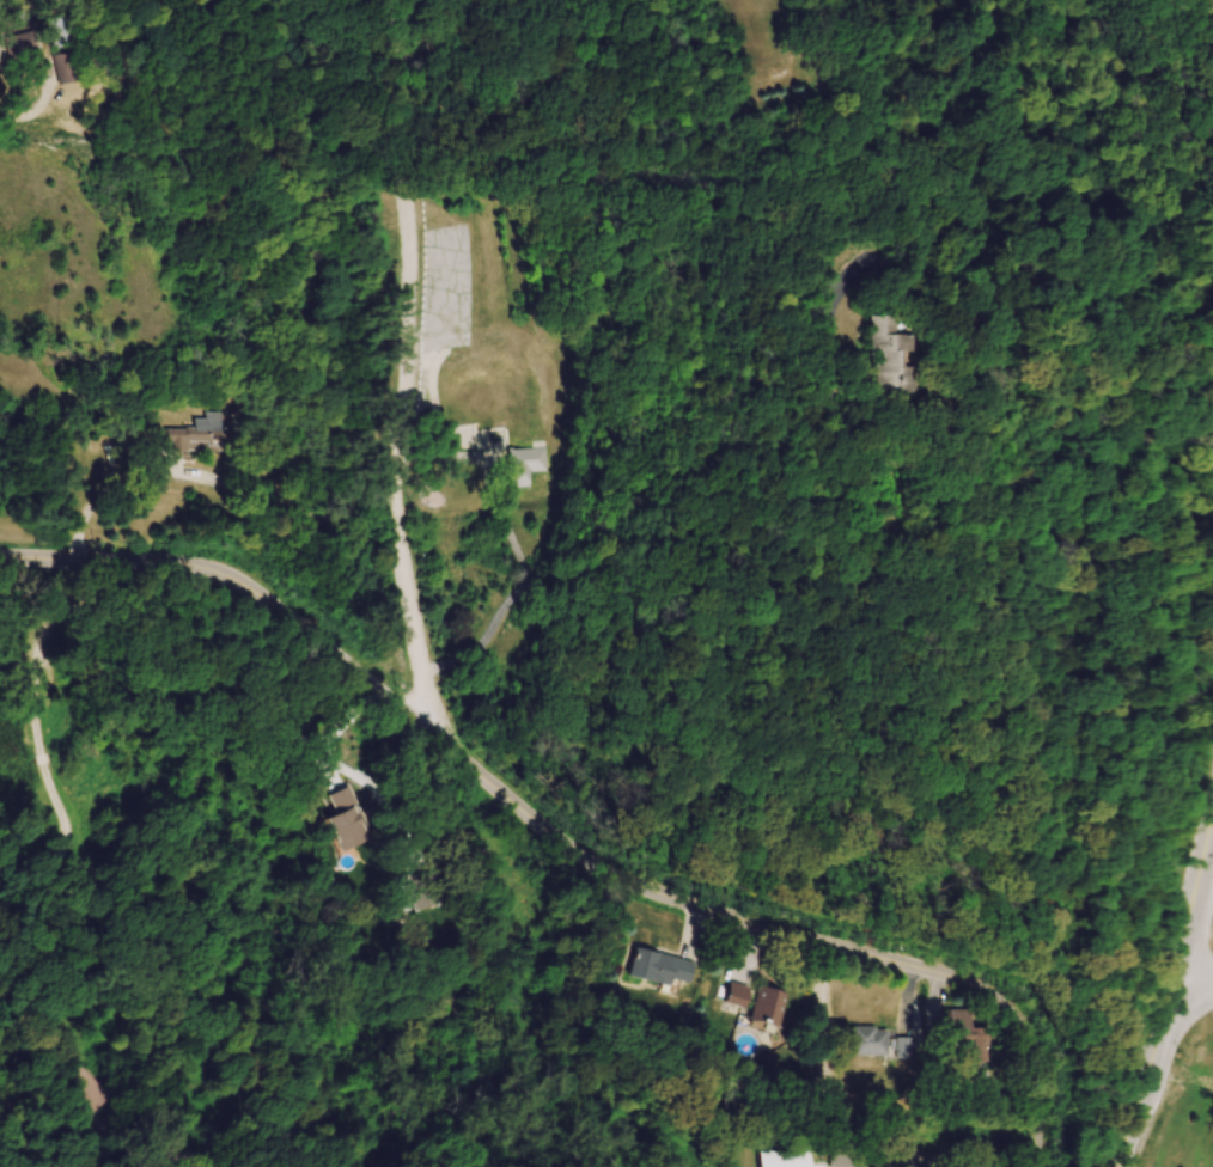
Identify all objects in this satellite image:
building: (72, 31)
road: (441, 38)
building: (23, 48)
building: (79, 67)
building: (914, 355)
road: (404, 367)
building: (205, 436)
building: (526, 466)
road: (144, 472)
park: (1075, 478)
road: (329, 512)
road: (810, 587)
road: (49, 628)
road: (334, 733)
road: (42, 757)
building: (352, 821)
road: (560, 837)
road: (68, 853)
road: (1196, 915)
building: (664, 969)
road: (1195, 986)
building: (740, 996)
building: (770, 1007)
building: (874, 1043)
building: (910, 1049)
road: (1151, 1076)
park: (1188, 1087)
road: (184, 1151)

